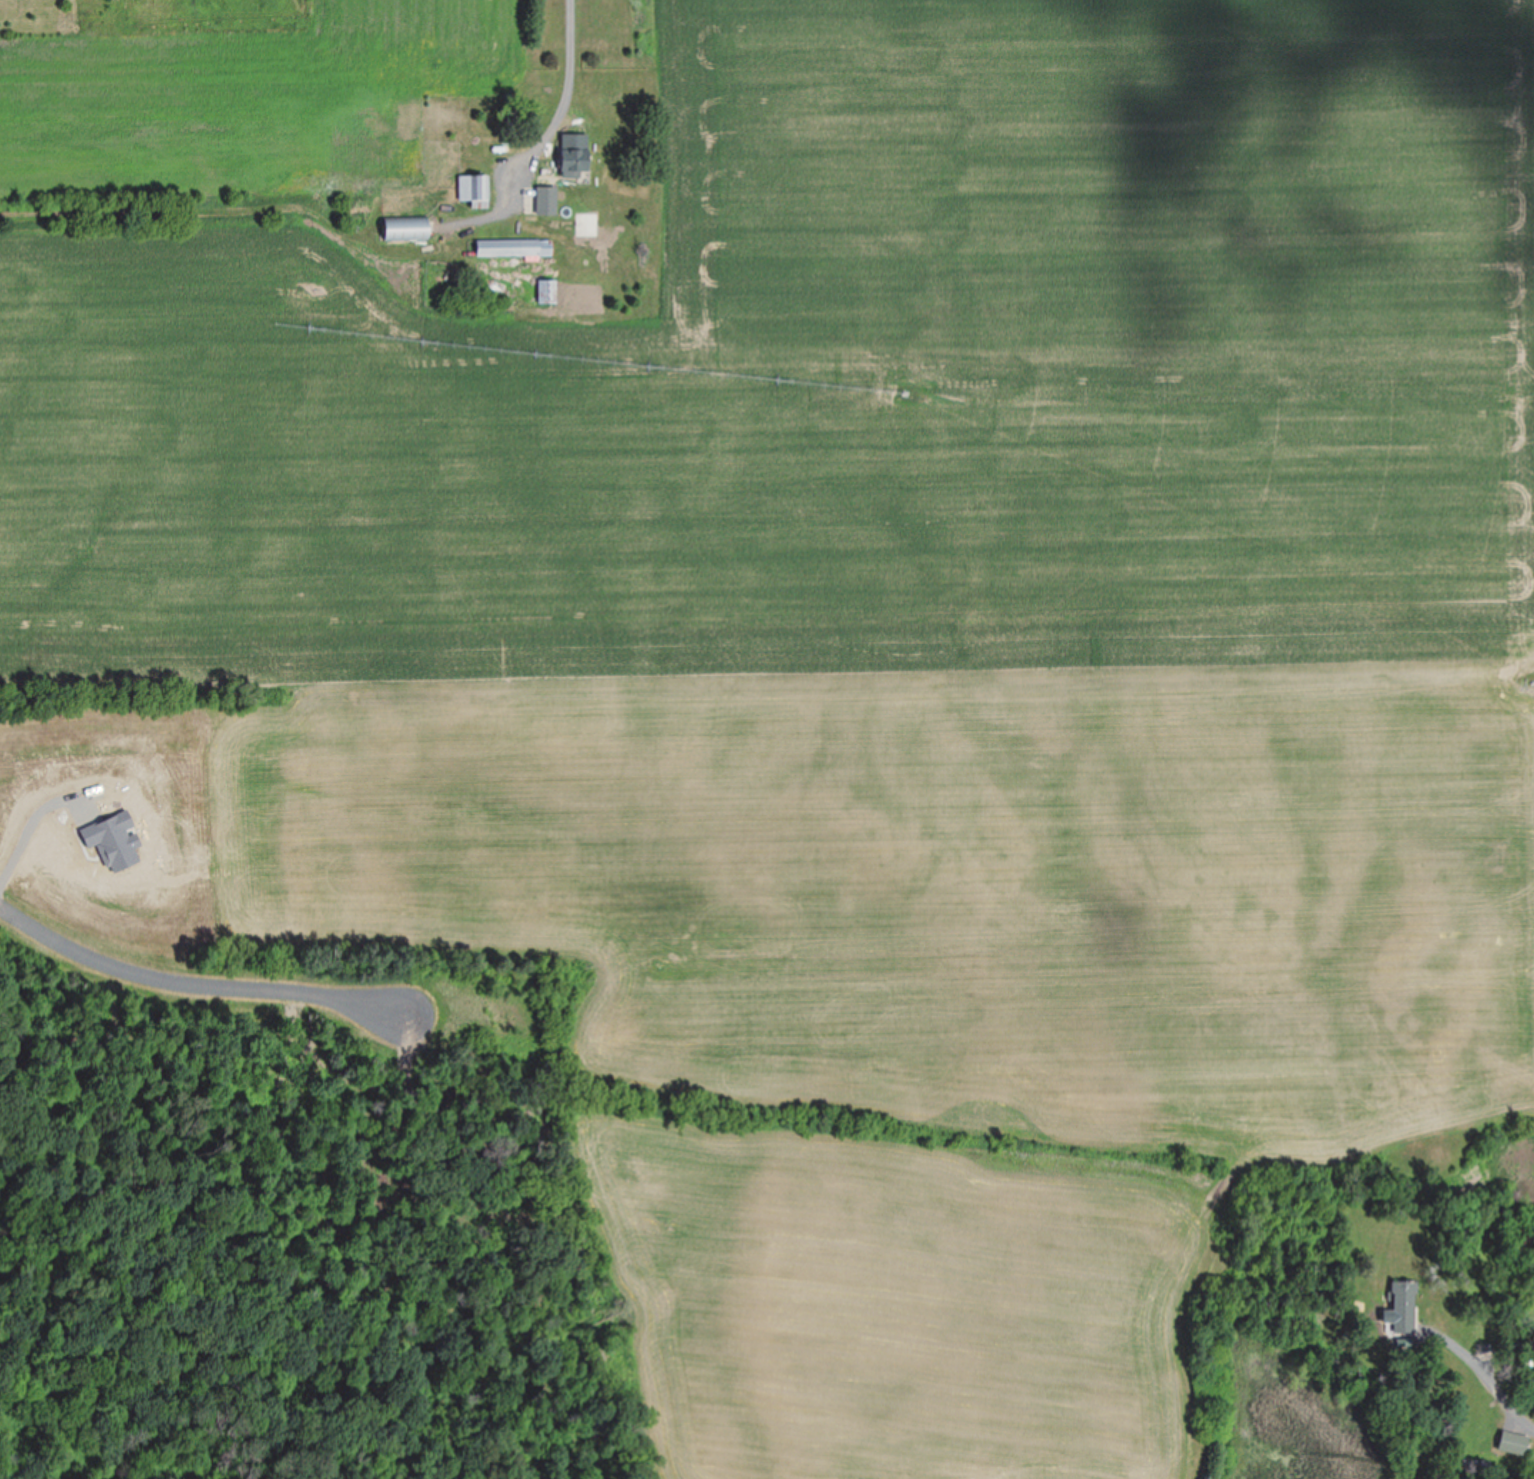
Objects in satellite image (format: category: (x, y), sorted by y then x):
road: (578, 99)
building: (572, 158)
building: (472, 189)
building: (540, 199)
building: (404, 228)
building: (513, 247)
building: (546, 290)
road: (186, 992)
building: (1401, 1306)
road: (1489, 1374)
building: (1512, 1441)

